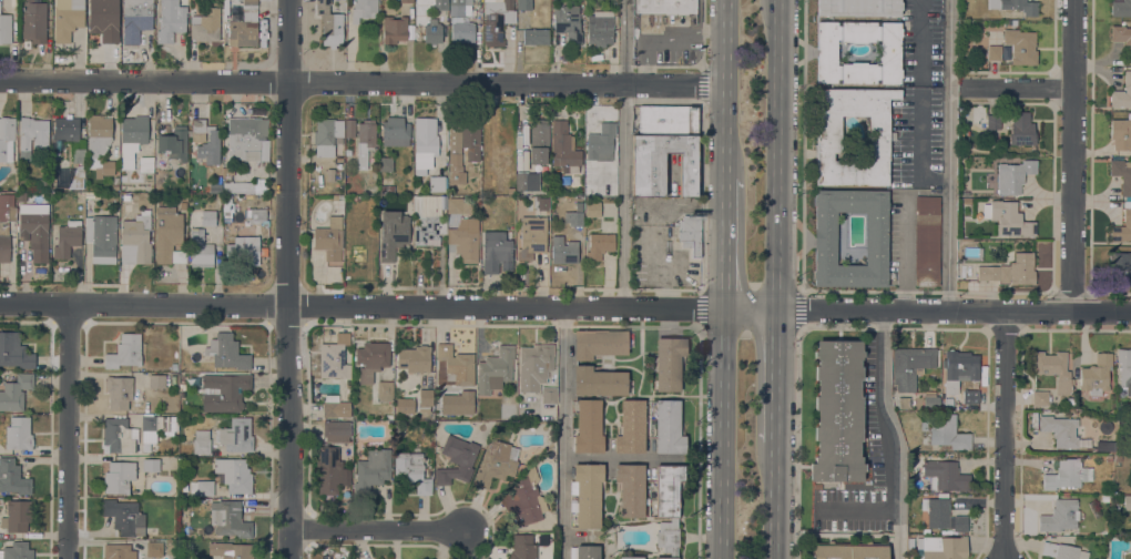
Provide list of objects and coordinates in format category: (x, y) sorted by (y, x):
building: (406, 0)
building: (441, 4)
building: (524, 4)
building: (665, 6)
building: (1016, 6)
building: (460, 7)
building: (859, 7)
building: (1121, 8)
building: (364, 9)
building: (68, 18)
building: (104, 19)
building: (135, 19)
building: (171, 20)
building: (497, 20)
building: (33, 21)
building: (568, 22)
building: (329, 23)
building: (206, 24)
building: (1013, 24)
building: (244, 26)
building: (4, 28)
building: (600, 28)
building: (394, 29)
building: (432, 31)
building: (462, 32)
building: (536, 37)
road: (924, 38)
building: (1122, 39)
building: (1020, 45)
building: (889, 51)
building: (992, 52)
road: (361, 83)
road: (724, 88)
road: (1013, 91)
building: (1122, 92)
building: (668, 120)
building: (994, 121)
building: (349, 128)
building: (395, 129)
building: (1021, 129)
building: (64, 131)
building: (1120, 133)
building: (132, 134)
building: (326, 134)
building: (32, 135)
building: (882, 135)
building: (7, 138)
building: (247, 139)
building: (197, 140)
building: (365, 141)
building: (539, 141)
building: (99, 142)
building: (463, 142)
building: (601, 142)
building: (173, 143)
building: (425, 143)
building: (508, 145)
building: (563, 145)
road: (622, 153)
road: (777, 154)
road: (950, 154)
road: (1076, 155)
building: (78, 160)
building: (383, 162)
building: (145, 163)
building: (662, 163)
building: (506, 166)
building: (230, 171)
building: (329, 174)
building: (1122, 174)
building: (1012, 175)
building: (526, 181)
building: (43, 182)
building: (437, 182)
building: (75, 183)
building: (244, 185)
building: (114, 186)
building: (387, 189)
building: (217, 190)
building: (90, 194)
building: (21, 196)
building: (126, 196)
building: (184, 196)
building: (967, 201)
building: (542, 203)
building: (182, 204)
building: (458, 205)
building: (592, 209)
building: (256, 215)
building: (207, 217)
building: (226, 217)
building: (573, 217)
building: (1008, 217)
building: (429, 220)
building: (6, 224)
building: (1122, 225)
building: (34, 230)
building: (393, 233)
building: (690, 234)
building: (169, 235)
building: (531, 236)
building: (101, 237)
building: (67, 238)
building: (135, 238)
building: (329, 238)
building: (465, 238)
building: (825, 238)
building: (927, 240)
road: (724, 243)
building: (599, 244)
building: (200, 248)
building: (563, 250)
building: (242, 251)
building: (497, 251)
building: (972, 253)
road: (904, 256)
building: (1120, 267)
building: (1010, 270)
road: (287, 279)
road: (361, 305)
road: (927, 309)
building: (599, 343)
building: (14, 350)
building: (124, 352)
building: (226, 352)
building: (334, 357)
building: (371, 358)
building: (414, 358)
building: (669, 362)
building: (534, 365)
building: (174, 366)
building: (454, 366)
building: (910, 366)
building: (959, 368)
building: (1053, 368)
building: (1124, 368)
building: (495, 369)
building: (1096, 374)
road: (776, 375)
building: (931, 375)
building: (156, 380)
building: (598, 380)
building: (182, 386)
building: (385, 389)
building: (14, 392)
building: (119, 392)
building: (224, 392)
building: (548, 395)
building: (970, 396)
building: (1040, 397)
building: (425, 399)
building: (930, 399)
building: (1070, 400)
building: (905, 402)
building: (948, 402)
building: (405, 405)
building: (335, 407)
building: (837, 411)
building: (388, 416)
building: (1104, 426)
building: (588, 427)
building: (631, 427)
building: (669, 427)
building: (155, 428)
building: (944, 429)
building: (336, 430)
building: (401, 430)
building: (1060, 430)
road: (68, 431)
building: (19, 433)
road: (563, 433)
road: (722, 434)
building: (235, 435)
road: (1005, 435)
building: (118, 436)
building: (201, 441)
building: (1103, 445)
road: (897, 448)
road: (620, 457)
building: (1108, 457)
building: (1118, 457)
building: (456, 459)
building: (496, 463)
building: (151, 465)
building: (373, 469)
building: (328, 470)
building: (411, 471)
building: (233, 474)
building: (1067, 474)
building: (945, 475)
building: (13, 476)
building: (119, 477)
building: (184, 487)
building: (201, 488)
building: (630, 489)
building: (588, 494)
building: (1105, 498)
building: (524, 500)
road: (774, 500)
building: (1, 501)
building: (1127, 504)
building: (668, 508)
building: (1114, 508)
building: (17, 515)
building: (942, 515)
building: (1060, 516)
building: (124, 517)
building: (230, 518)
road: (378, 531)
road: (897, 535)
building: (522, 547)
building: (939, 547)
building: (154, 548)
building: (231, 550)
building: (848, 550)
building: (17, 551)
building: (118, 551)
building: (588, 551)
building: (1062, 551)
building: (631, 557)

